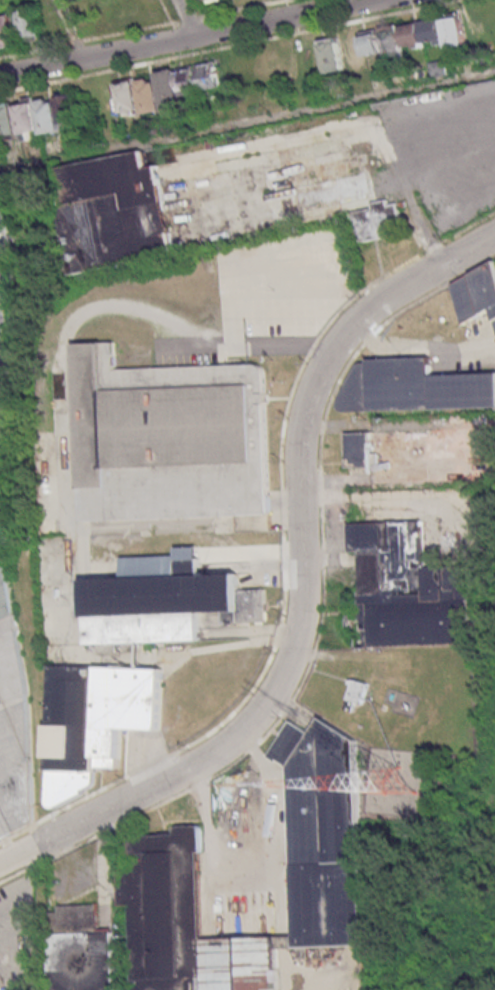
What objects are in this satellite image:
building: (204, 0)
building: (108, 2)
road: (192, 16)
building: (28, 24)
road: (74, 28)
building: (7, 31)
building: (423, 35)
road: (185, 36)
building: (349, 51)
building: (166, 88)
building: (36, 116)
road: (247, 123)
building: (115, 212)
building: (378, 221)
building: (476, 295)
building: (415, 388)
building: (169, 438)
building: (361, 451)
building: (7, 526)
road: (304, 584)
building: (407, 588)
building: (167, 603)
building: (360, 695)
building: (130, 706)
building: (15, 731)
building: (75, 732)
road: (276, 799)
building: (325, 833)
road: (210, 842)
building: (191, 924)
building: (84, 950)
building: (1, 986)

